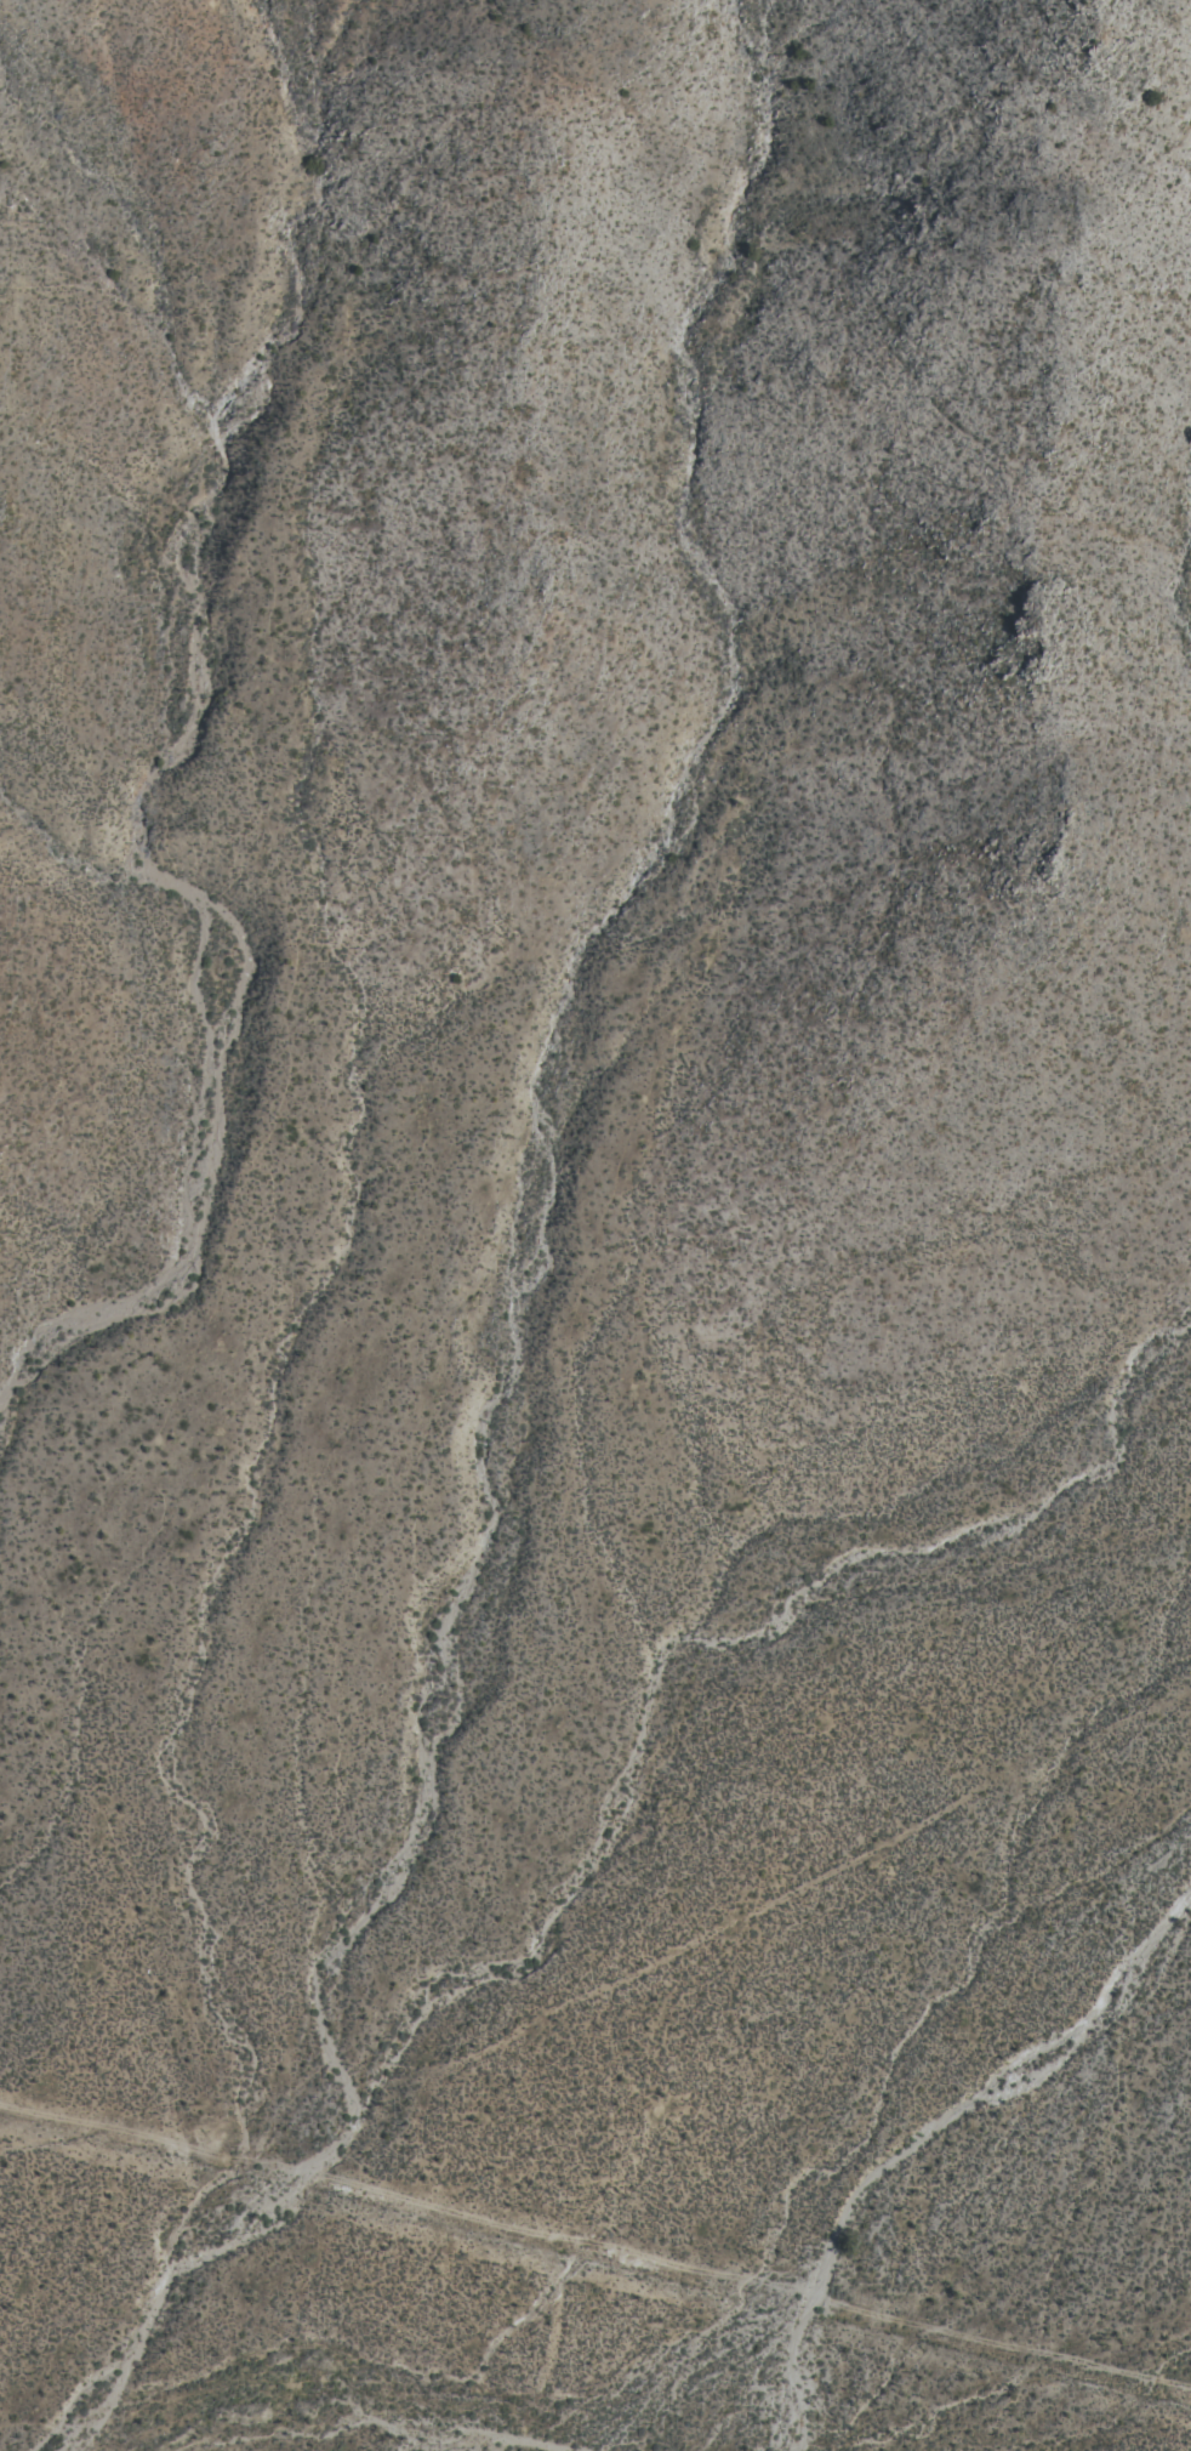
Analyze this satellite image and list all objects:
road: (594, 2244)

